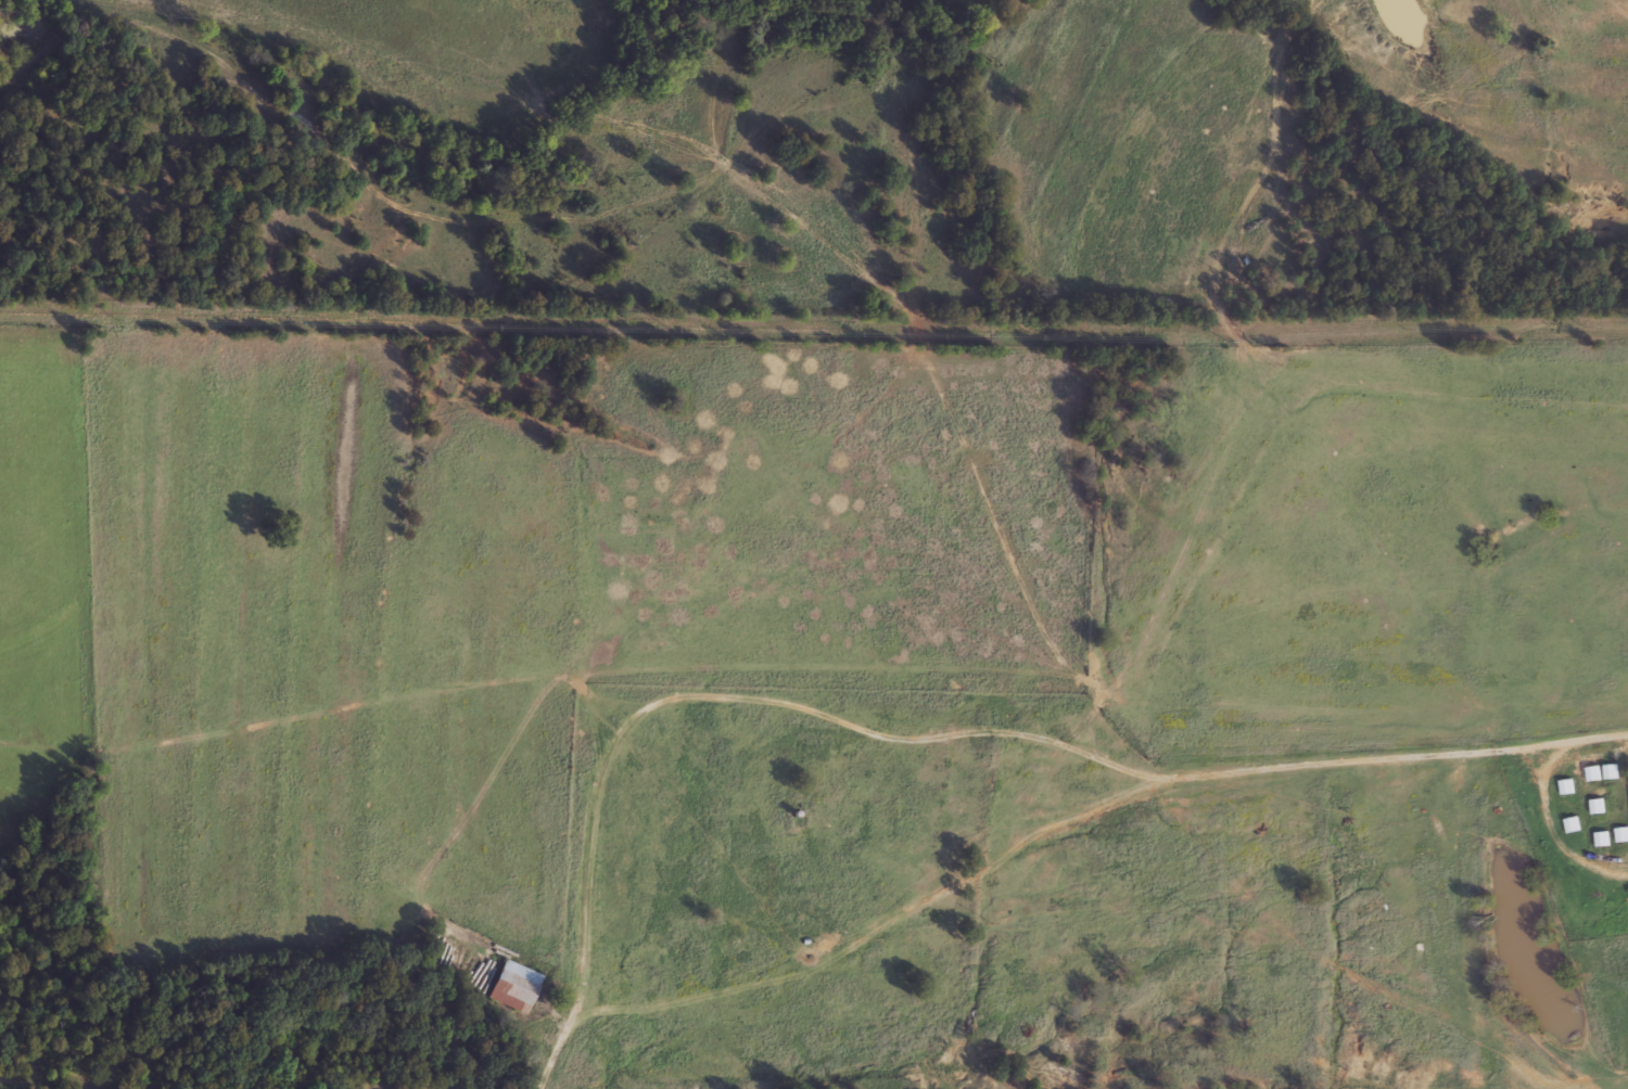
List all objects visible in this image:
building: (1611, 770)
building: (1593, 772)
building: (1566, 785)
road: (1047, 790)
building: (1598, 806)
building: (1573, 823)
building: (1621, 833)
building: (1601, 838)
building: (513, 985)

